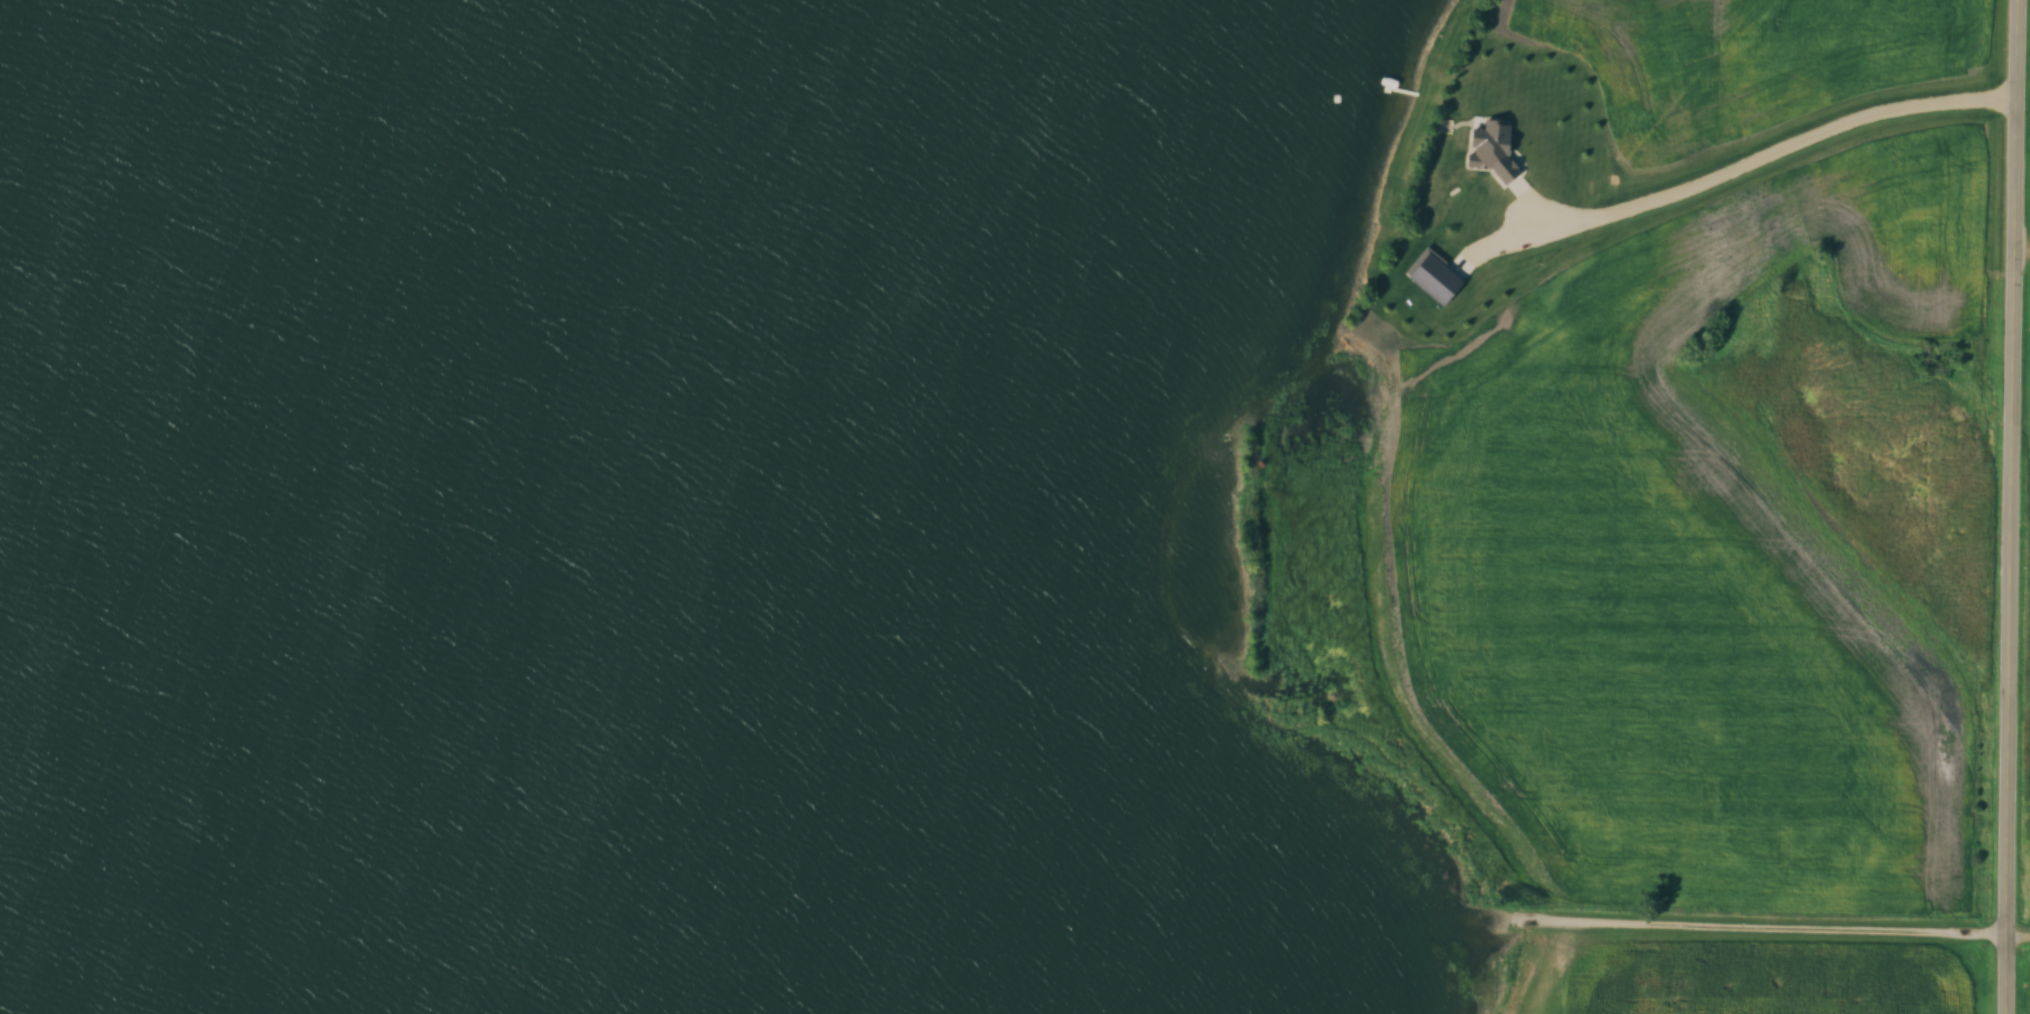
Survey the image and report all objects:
road: (2008, 506)

